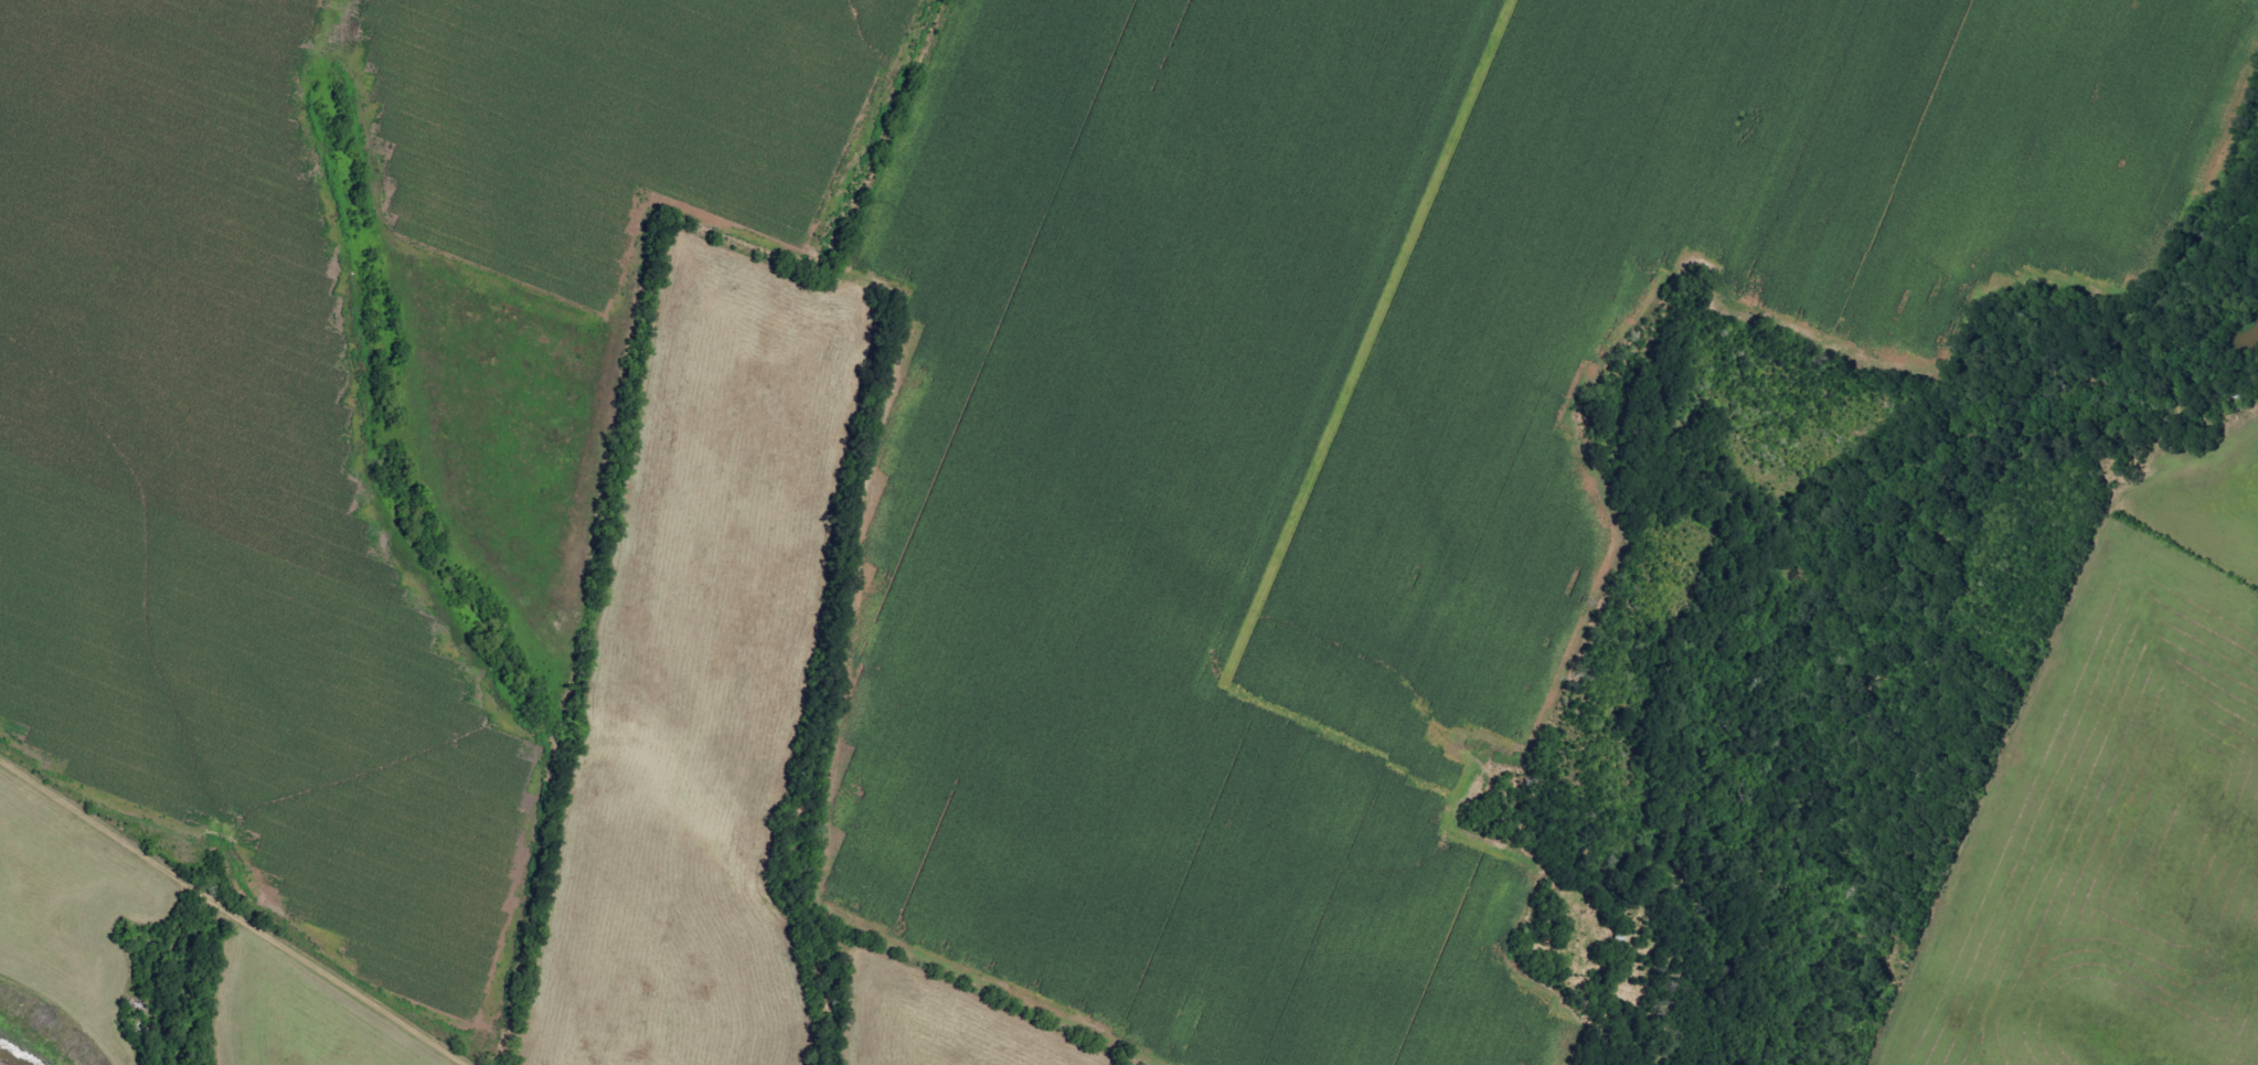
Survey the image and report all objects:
road: (1309, 544)
road: (236, 910)

